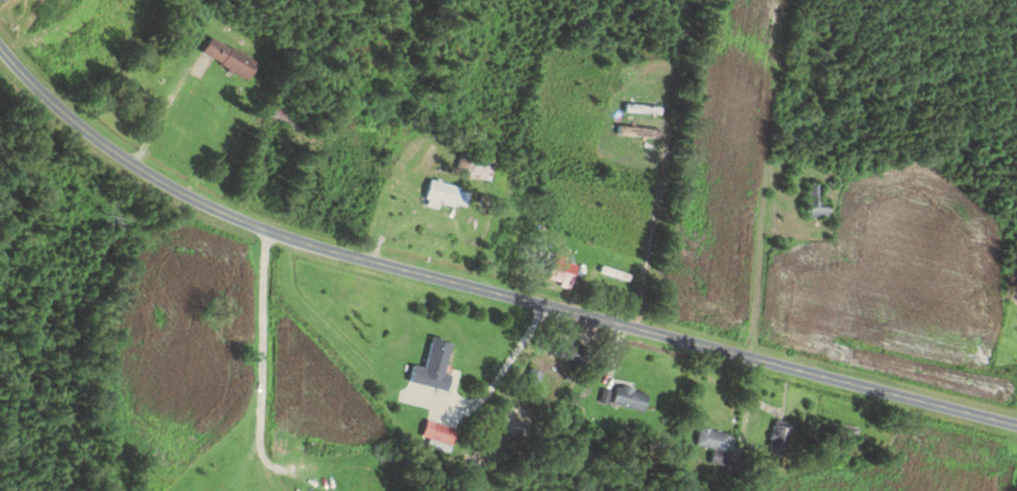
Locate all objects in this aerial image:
building: (3, 0)
building: (228, 57)
building: (593, 95)
building: (442, 193)
building: (816, 202)
road: (659, 225)
building: (561, 271)
building: (615, 273)
road: (482, 290)
road: (69, 317)
building: (573, 352)
road: (263, 359)
building: (433, 366)
road: (568, 396)
building: (629, 398)
building: (847, 433)
building: (438, 435)
building: (781, 437)
building: (714, 444)
road: (253, 486)

